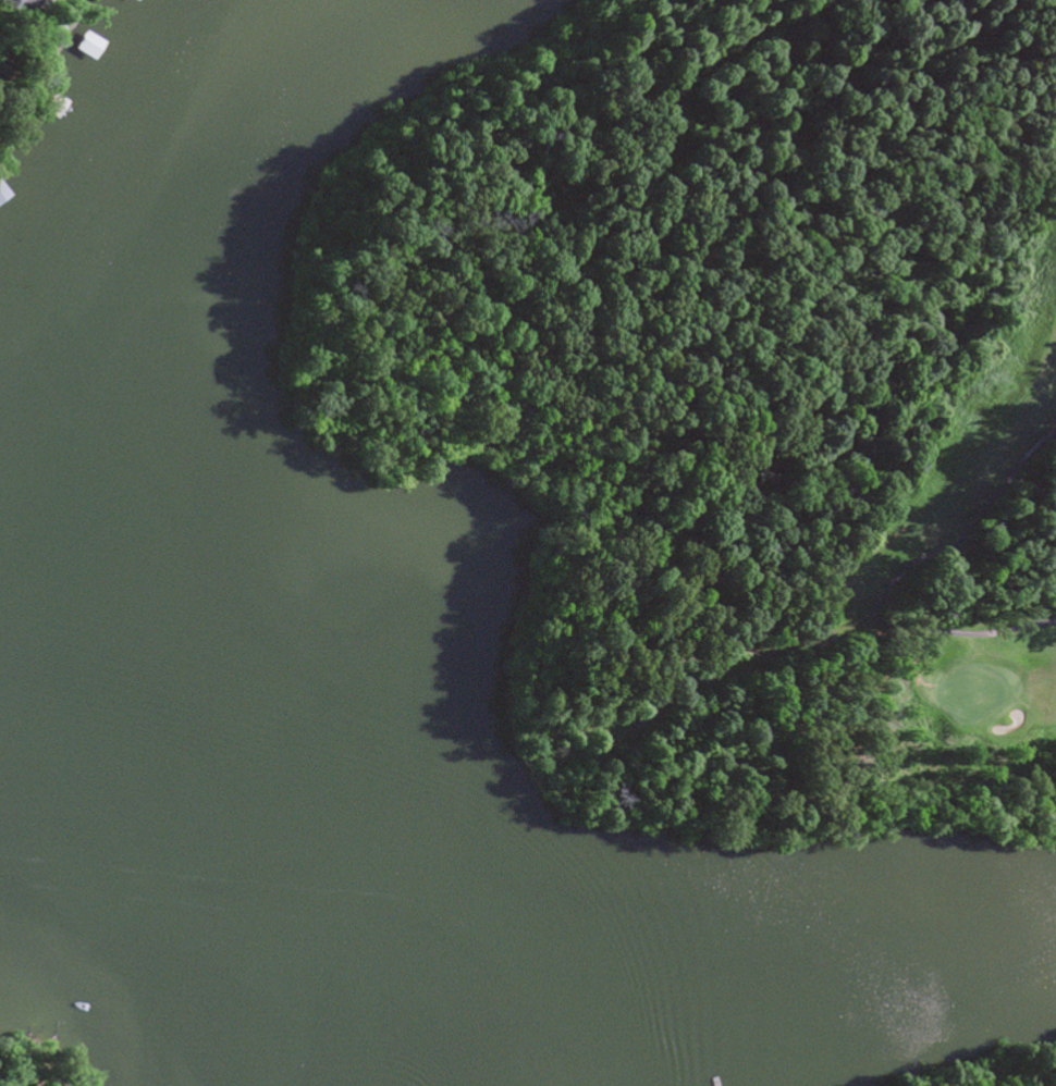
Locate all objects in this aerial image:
building: (125, 0)
building: (10, 8)
building: (82, 46)
building: (49, 107)
building: (0, 196)
park: (736, 408)
park: (924, 526)
park: (994, 1068)
park: (27, 1069)

